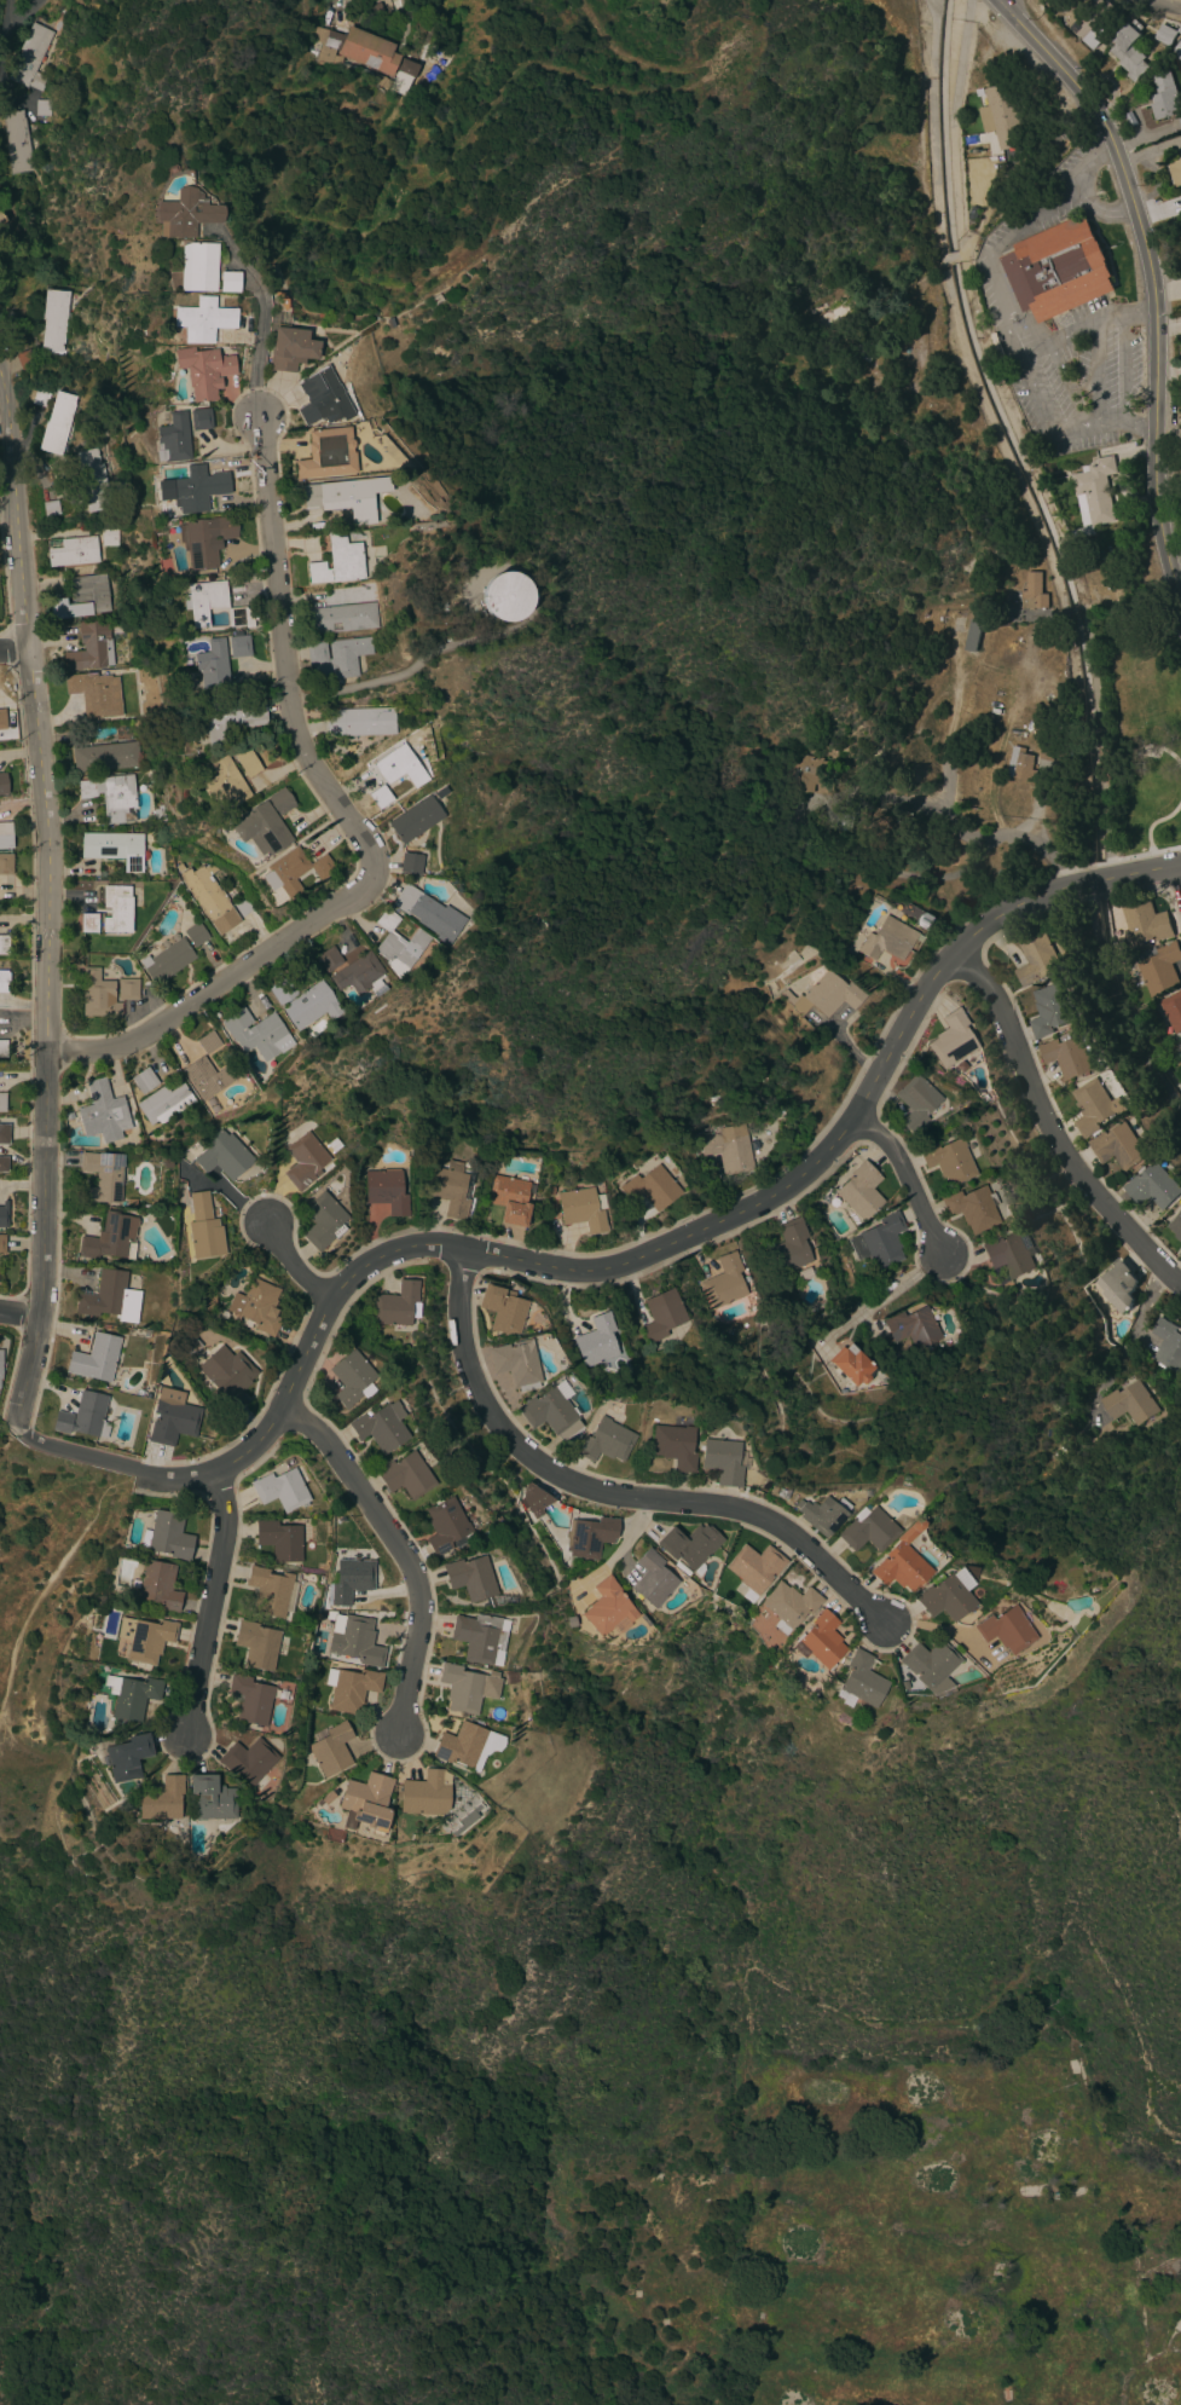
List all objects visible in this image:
road: (430, 1)
road: (335, 4)
road: (1160, 5)
building: (376, 10)
building: (1094, 23)
building: (1165, 34)
building: (355, 50)
building: (1129, 51)
building: (1177, 51)
building: (29, 57)
building: (406, 68)
building: (381, 81)
building: (1164, 96)
building: (42, 105)
building: (1002, 115)
building: (1180, 121)
building: (17, 141)
building: (1180, 154)
building: (1174, 170)
road: (1048, 197)
road: (1095, 207)
building: (184, 214)
building: (2, 219)
building: (197, 267)
building: (1058, 268)
road: (1150, 274)
building: (228, 282)
road: (1134, 313)
road: (259, 317)
road: (1021, 318)
building: (53, 319)
building: (202, 319)
road: (1094, 322)
parking lot: (1058, 334)
building: (290, 349)
building: (24, 359)
building: (203, 370)
road: (1121, 370)
road: (1058, 371)
road: (1094, 375)
road: (1025, 380)
building: (40, 397)
building: (324, 399)
building: (201, 418)
building: (56, 423)
road: (1139, 424)
building: (173, 439)
building: (328, 453)
building: (92, 480)
building: (197, 488)
building: (1094, 491)
building: (338, 497)
building: (48, 508)
building: (109, 536)
building: (205, 539)
building: (71, 551)
building: (337, 561)
building: (1032, 591)
storage tank: (502, 596)
road: (1128, 596)
building: (82, 597)
building: (502, 597)
building: (203, 600)
road: (1073, 609)
road: (1052, 612)
building: (237, 617)
building: (342, 618)
building: (973, 635)
building: (238, 644)
building: (89, 647)
road: (13, 649)
building: (336, 657)
building: (212, 664)
building: (95, 693)
building: (231, 718)
building: (2, 719)
building: (360, 722)
park: (1142, 727)
building: (415, 738)
building: (1046, 753)
building: (105, 757)
road: (1171, 757)
building: (1020, 764)
building: (394, 773)
building: (807, 775)
building: (230, 780)
building: (2, 784)
building: (436, 794)
building: (111, 796)
building: (280, 800)
road: (951, 815)
building: (415, 819)
building: (836, 820)
building: (904, 821)
road: (1148, 825)
road: (354, 827)
building: (261, 829)
building: (5, 834)
building: (803, 840)
building: (115, 848)
road: (1140, 855)
road: (1180, 861)
building: (5, 863)
building: (410, 863)
road: (1180, 866)
building: (179, 868)
building: (294, 871)
building: (209, 898)
building: (242, 906)
building: (117, 908)
road: (47, 913)
building: (428, 913)
building: (921, 920)
building: (88, 921)
building: (1145, 921)
building: (195, 933)
building: (887, 938)
building: (4, 944)
building: (398, 944)
building: (329, 959)
building: (1037, 959)
building: (167, 960)
building: (1158, 967)
building: (359, 975)
building: (4, 981)
building: (282, 990)
building: (104, 993)
building: (786, 995)
building: (827, 995)
building: (311, 1006)
building: (1052, 1010)
building: (1173, 1010)
building: (257, 1034)
building: (951, 1039)
building: (208, 1042)
building: (1180, 1047)
building: (2, 1048)
building: (1069, 1054)
building: (205, 1077)
building: (144, 1081)
building: (163, 1100)
building: (2, 1102)
building: (916, 1102)
building: (1094, 1106)
building: (103, 1112)
building: (68, 1116)
road: (1052, 1131)
building: (2, 1133)
building: (332, 1145)
building: (726, 1146)
building: (1119, 1146)
building: (222, 1155)
building: (303, 1161)
building: (846, 1161)
building: (946, 1161)
building: (2, 1163)
building: (103, 1175)
road: (908, 1178)
building: (1154, 1186)
building: (451, 1187)
building: (650, 1187)
building: (552, 1190)
building: (861, 1190)
building: (386, 1191)
building: (509, 1199)
building: (129, 1202)
building: (972, 1208)
building: (583, 1209)
building: (2, 1214)
building: (323, 1220)
building: (203, 1226)
building: (1176, 1226)
building: (996, 1233)
building: (110, 1237)
building: (879, 1241)
building: (2, 1244)
building: (788, 1247)
building: (1180, 1253)
building: (1009, 1256)
road: (291, 1264)
road: (613, 1264)
building: (724, 1282)
building: (1118, 1285)
building: (110, 1297)
building: (208, 1300)
road: (880, 1300)
building: (396, 1305)
building: (256, 1306)
building: (503, 1308)
road: (19, 1310)
building: (661, 1314)
building: (105, 1326)
building: (913, 1326)
building: (139, 1332)
road: (1129, 1339)
building: (596, 1340)
building: (193, 1343)
building: (1168, 1346)
building: (95, 1358)
building: (0, 1364)
building: (516, 1364)
building: (851, 1364)
building: (227, 1375)
building: (352, 1378)
building: (214, 1394)
building: (1129, 1403)
building: (552, 1412)
building: (83, 1416)
building: (173, 1422)
building: (381, 1423)
building: (604, 1441)
building: (673, 1445)
building: (723, 1461)
building: (405, 1475)
building: (282, 1488)
road: (607, 1492)
building: (863, 1493)
building: (532, 1499)
building: (821, 1515)
building: (445, 1525)
building: (866, 1530)
building: (167, 1536)
building: (589, 1537)
building: (279, 1540)
building: (687, 1545)
road: (400, 1553)
building: (899, 1561)
building: (754, 1566)
building: (469, 1577)
building: (351, 1579)
building: (653, 1579)
building: (158, 1585)
building: (271, 1591)
building: (943, 1595)
building: (503, 1596)
road: (207, 1603)
building: (788, 1605)
building: (608, 1608)
park: (40, 1611)
building: (1002, 1630)
building: (144, 1637)
building: (480, 1637)
building: (354, 1640)
building: (820, 1641)
building: (256, 1644)
building: (928, 1663)
building: (858, 1682)
building: (901, 1684)
building: (351, 1688)
building: (464, 1688)
building: (131, 1696)
building: (249, 1699)
building: (461, 1745)
building: (330, 1748)
building: (122, 1754)
building: (248, 1762)
building: (425, 1793)
building: (160, 1798)
building: (210, 1798)
building: (328, 1798)
building: (367, 1802)
building: (476, 1808)
building: (465, 1819)
building: (1055, 2195)

